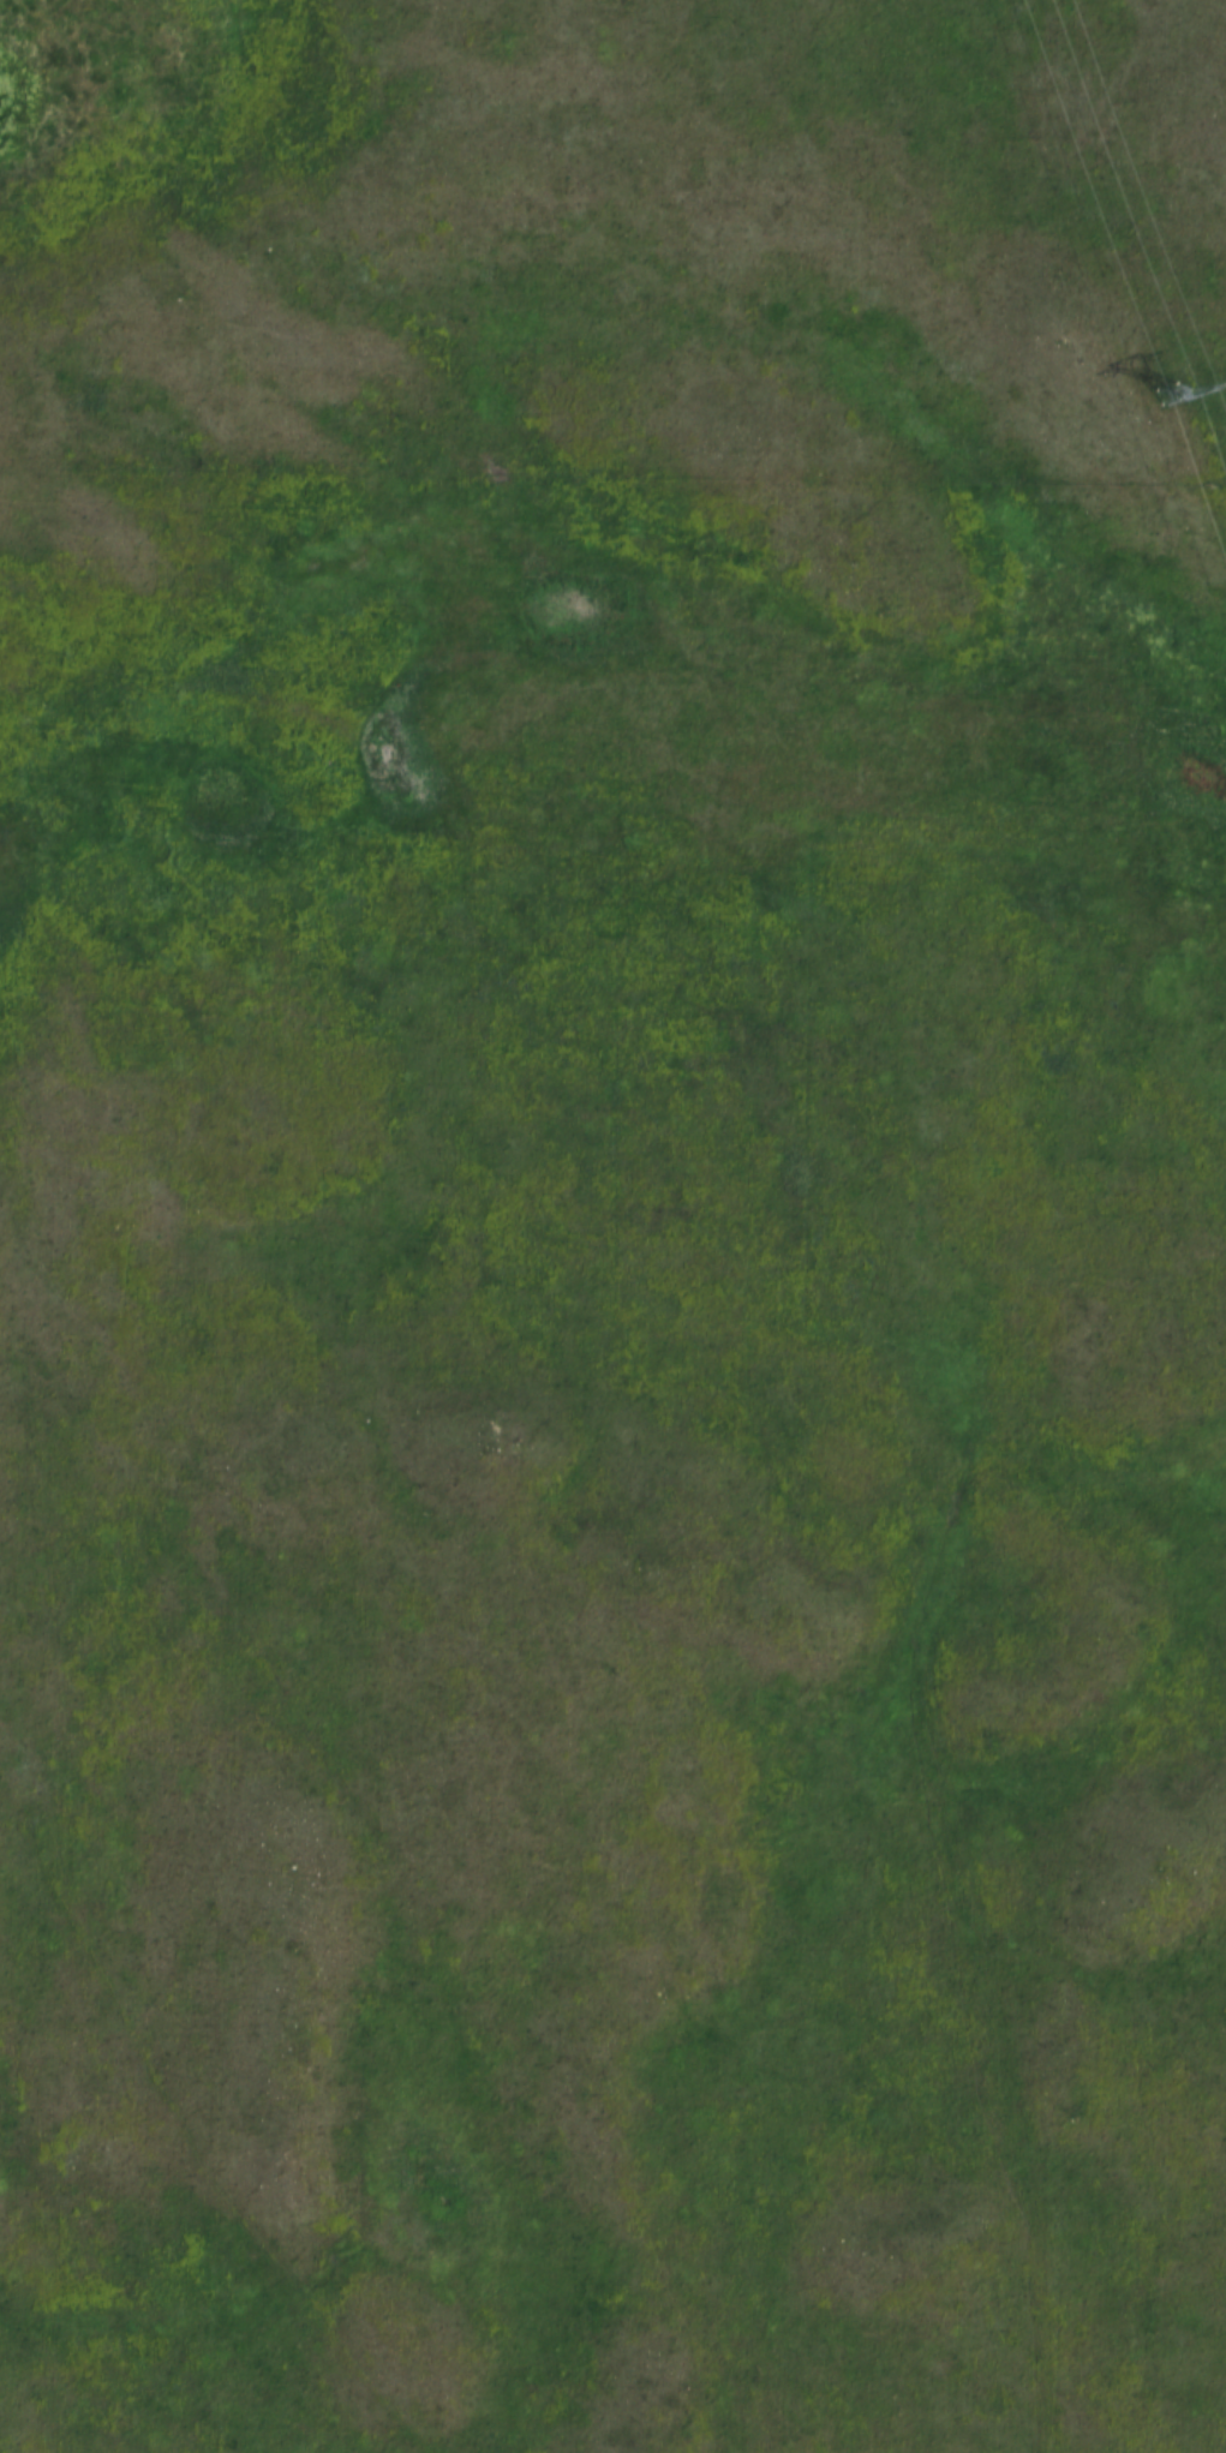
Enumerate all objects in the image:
power tower: (1170, 395)

